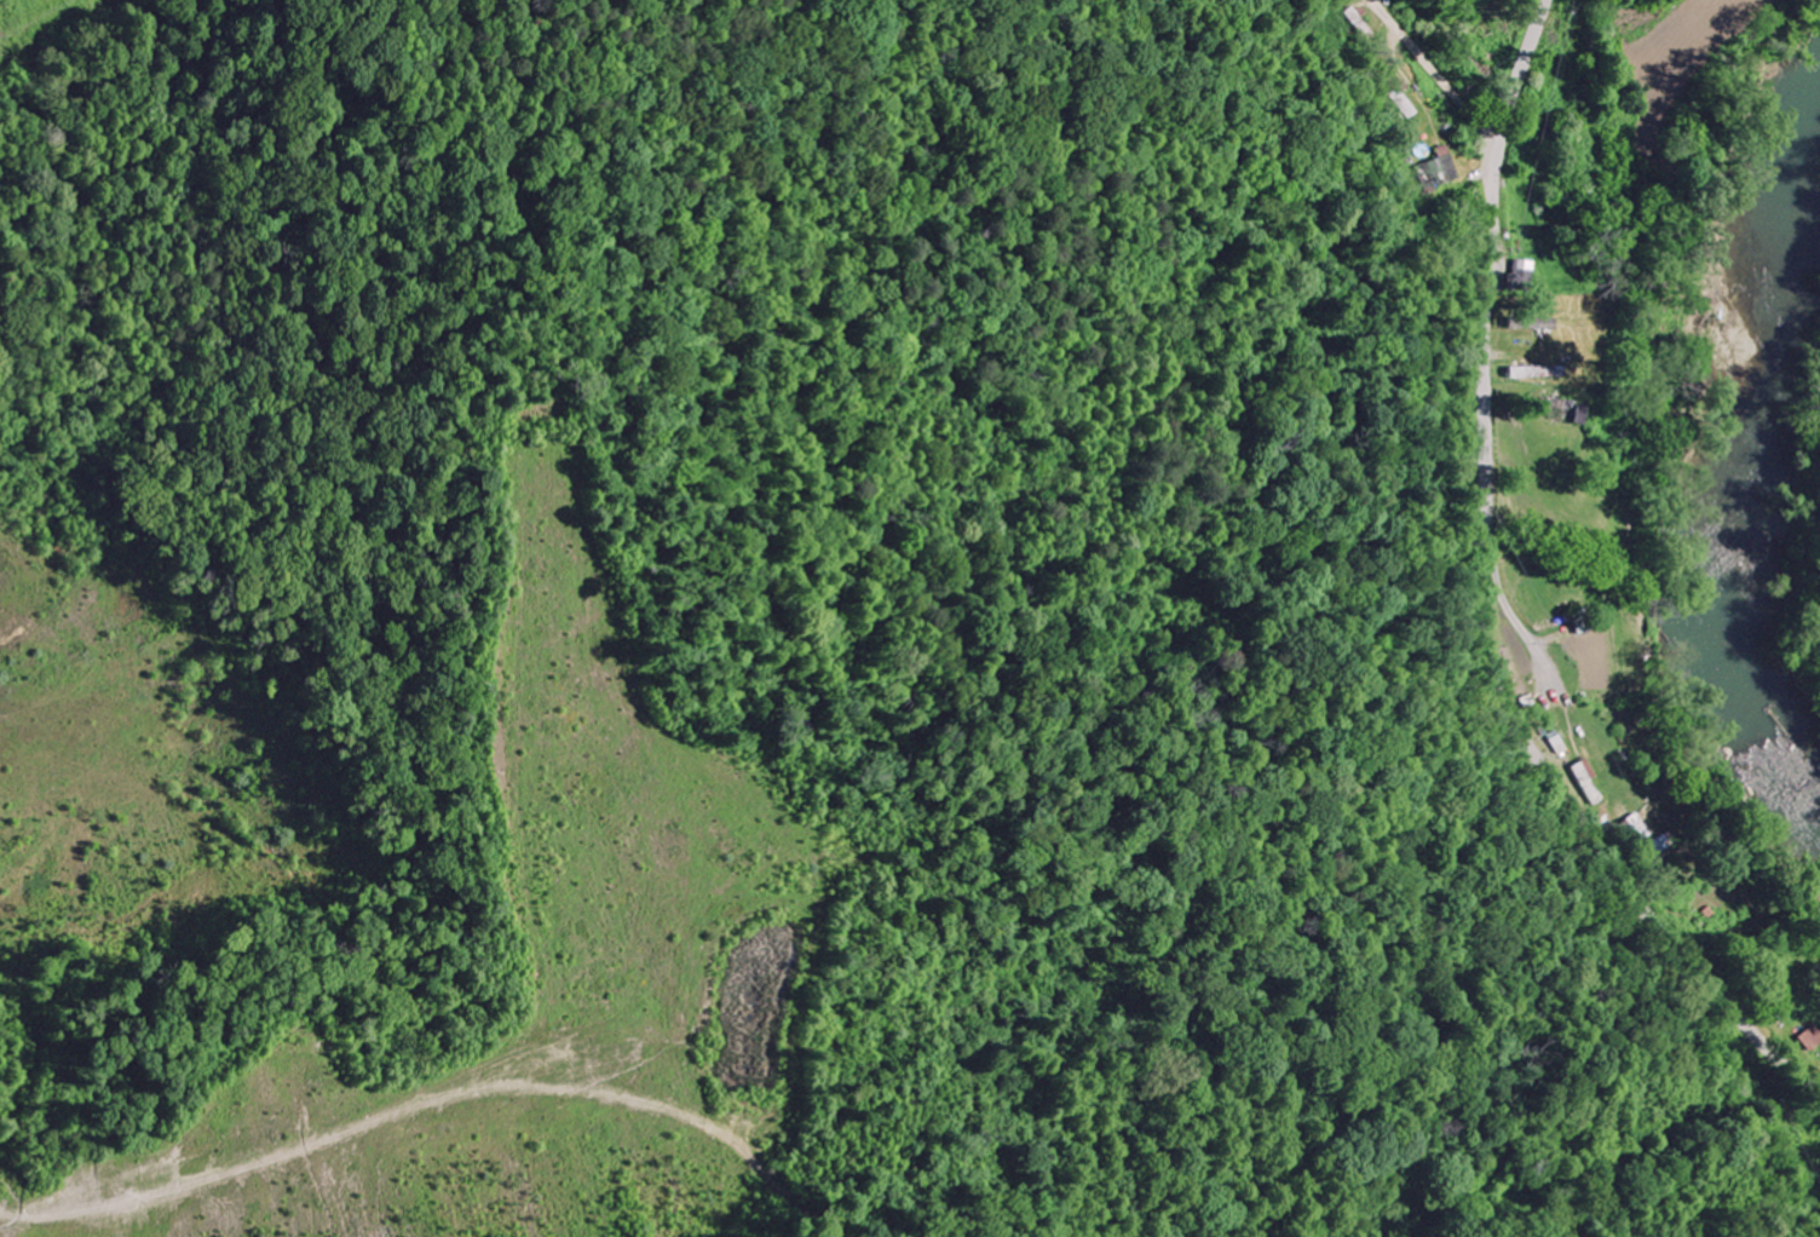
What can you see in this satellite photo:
building: (1365, 23)
road: (1439, 68)
building: (1445, 168)
building: (1524, 276)
building: (1536, 372)
river: (1746, 495)
road: (1488, 598)
building: (1594, 782)

